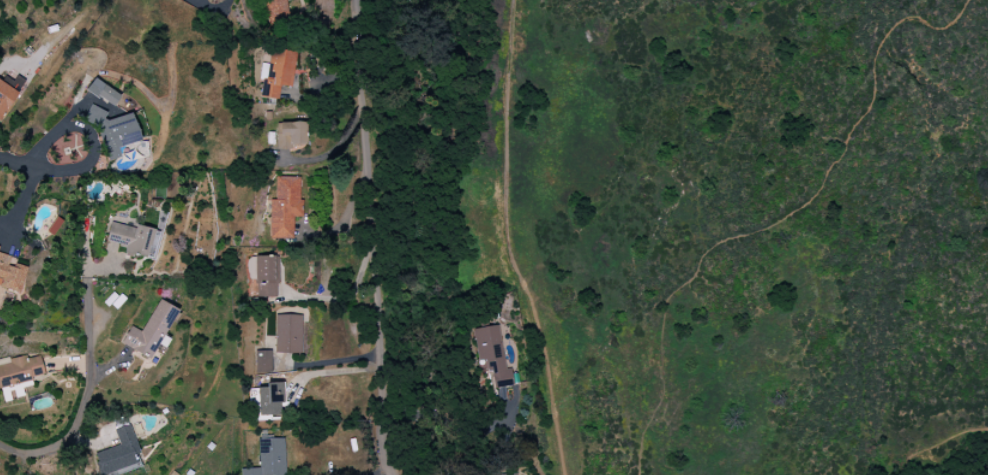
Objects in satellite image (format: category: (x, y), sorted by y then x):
road: (212, 7)
building: (275, 13)
building: (276, 73)
building: (9, 92)
building: (103, 92)
building: (113, 133)
building: (290, 136)
road: (43, 169)
building: (285, 207)
building: (131, 239)
road: (368, 239)
building: (11, 274)
building: (266, 276)
road: (346, 299)
building: (150, 331)
building: (287, 334)
building: (492, 355)
building: (263, 361)
road: (326, 361)
road: (326, 373)
building: (18, 375)
road: (88, 384)
building: (270, 399)
road: (450, 421)
building: (269, 458)
building: (509, 474)

